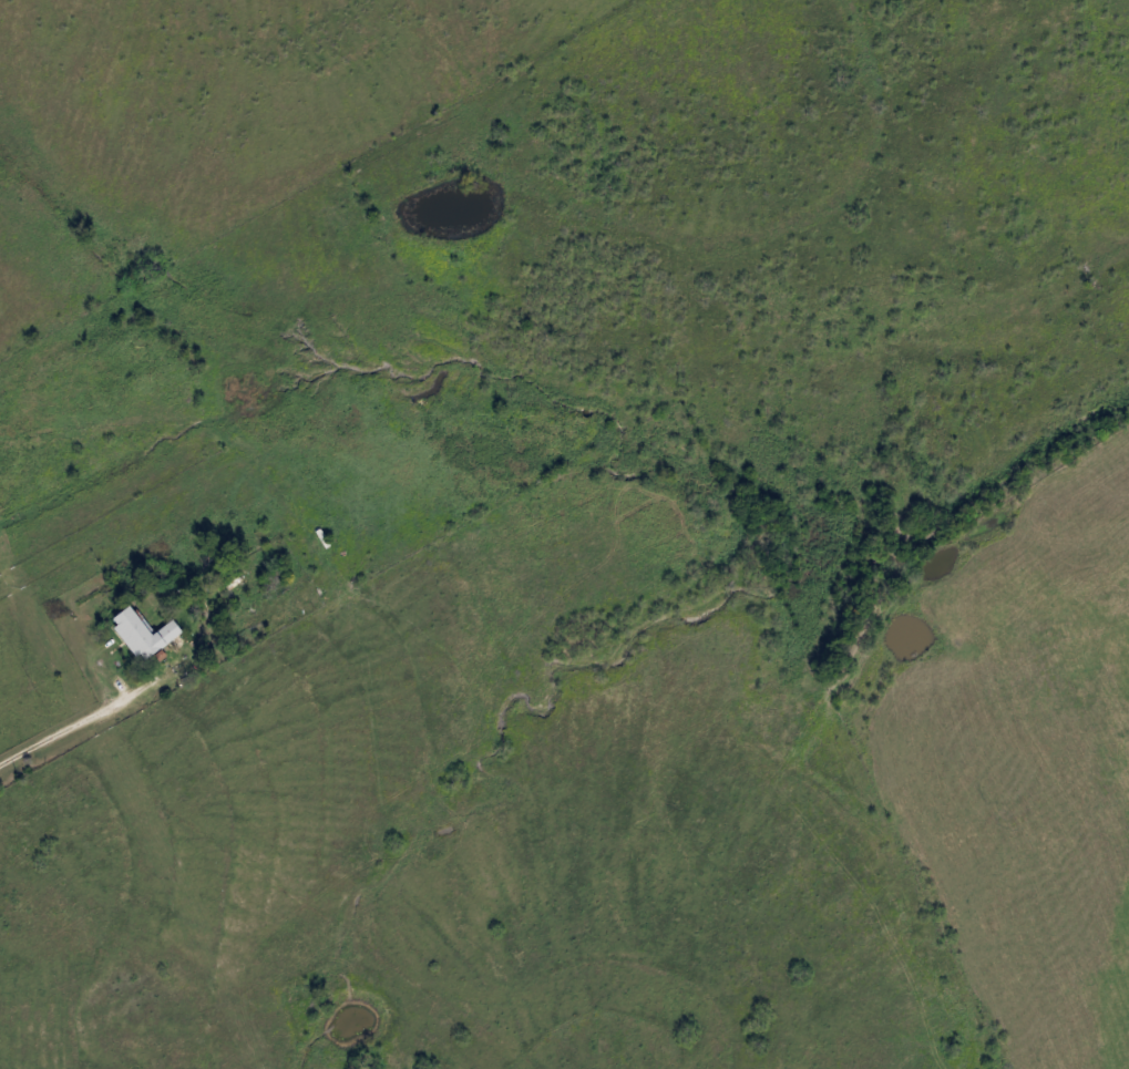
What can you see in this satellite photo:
building: (140, 635)
road: (103, 703)

